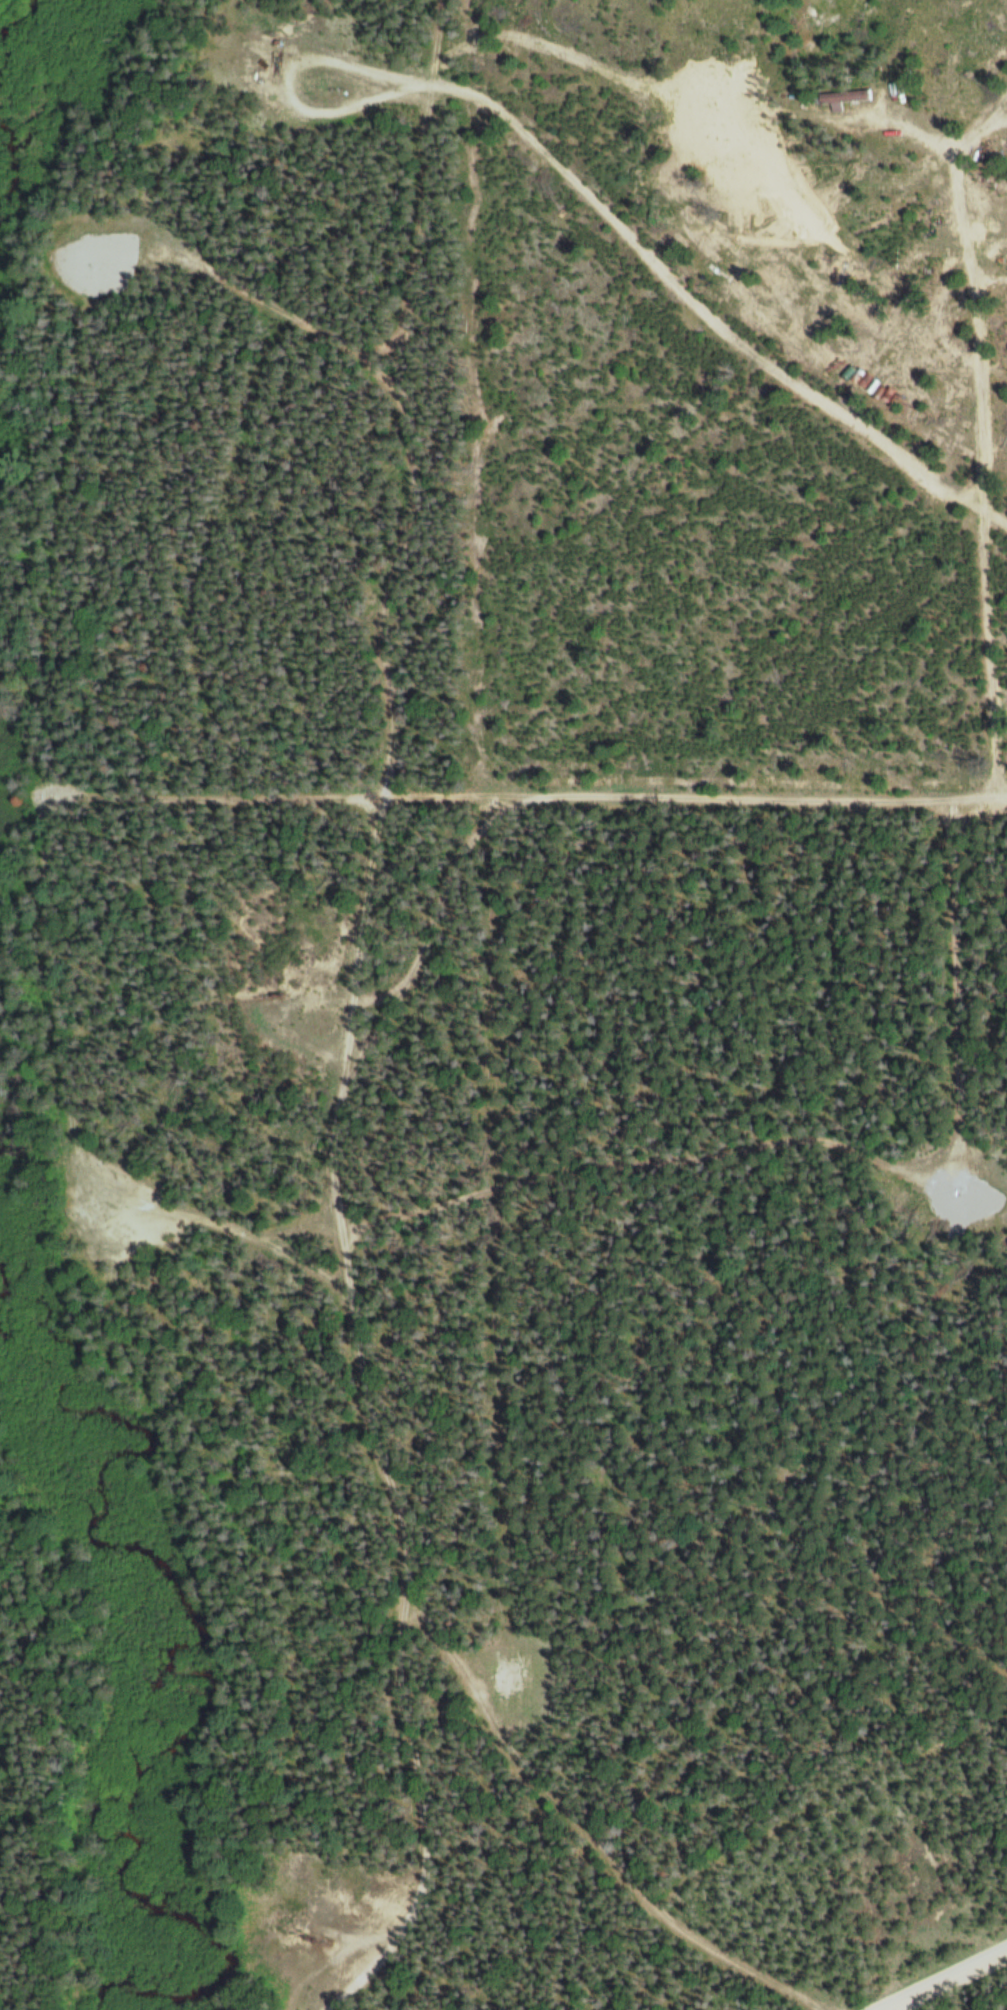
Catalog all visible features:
petroleum well: (269, 61)
building: (839, 97)
road: (703, 319)
road: (397, 350)
road: (77, 372)
road: (973, 451)
road: (404, 676)
road: (524, 799)
road: (389, 1013)
road: (811, 1150)
road: (416, 1625)
petroleum well: (305, 1939)
road: (946, 1981)

